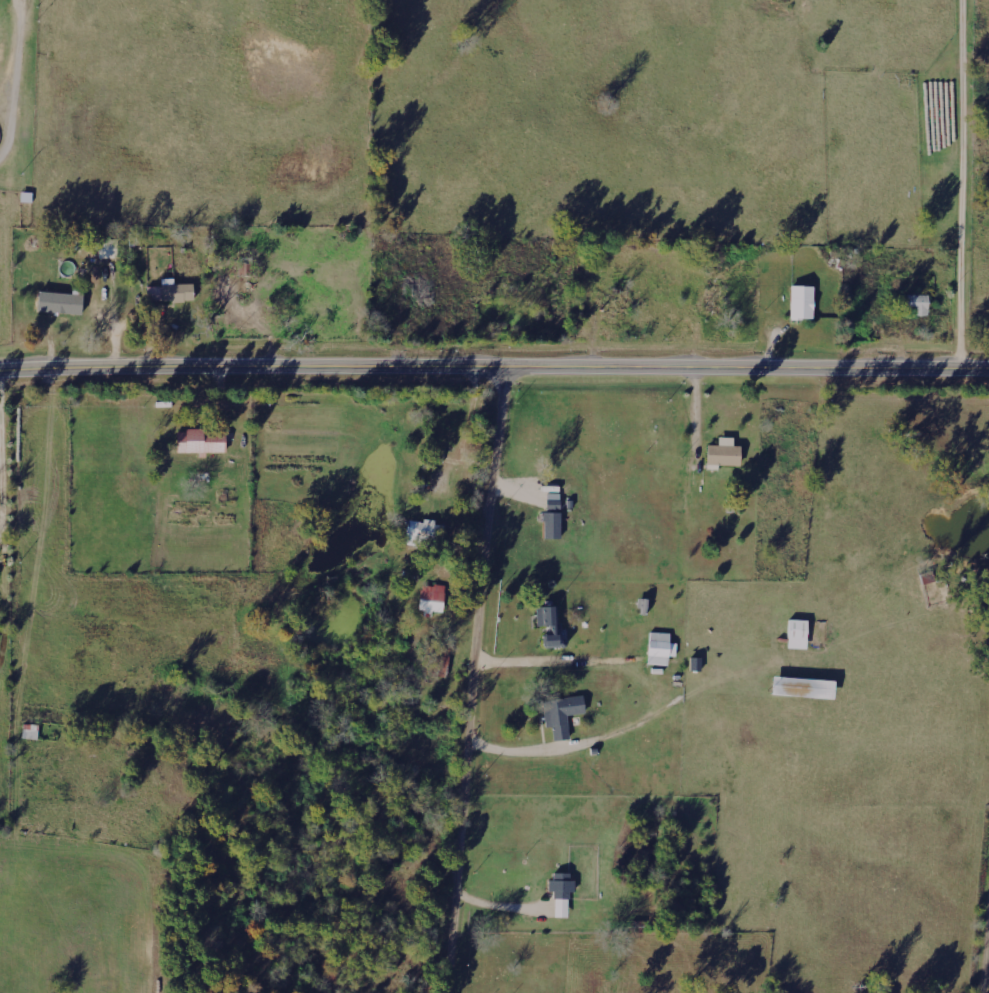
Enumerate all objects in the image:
building: (109, 248)
building: (172, 291)
building: (59, 300)
building: (803, 301)
road: (494, 366)
building: (198, 442)
road: (3, 452)
building: (726, 452)
building: (553, 524)
building: (425, 533)
building: (433, 598)
building: (550, 623)
building: (798, 633)
building: (661, 648)
road: (480, 679)
building: (805, 687)
building: (563, 714)
building: (31, 731)
building: (562, 892)

